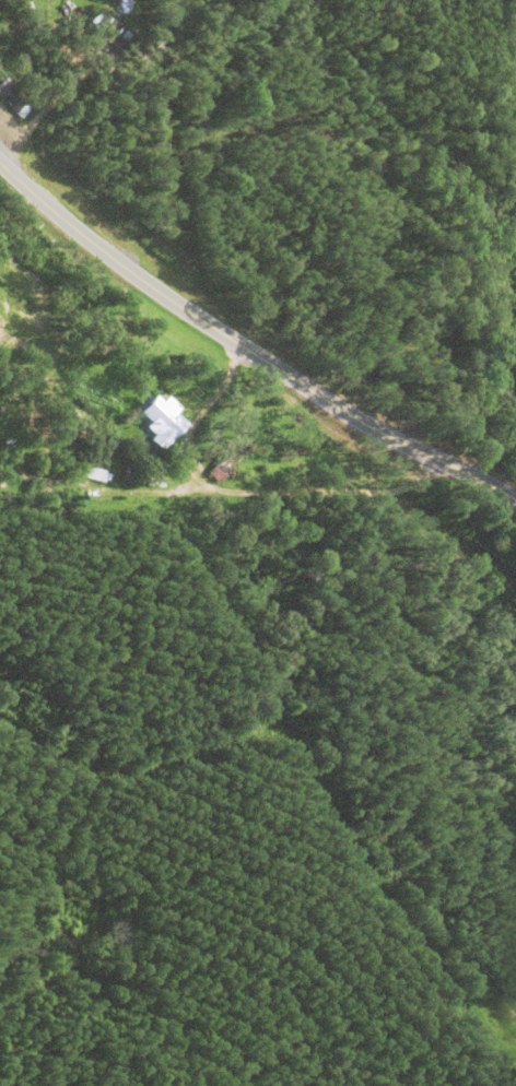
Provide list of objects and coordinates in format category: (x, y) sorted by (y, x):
building: (113, 29)
building: (14, 99)
road: (247, 356)
building: (162, 422)
building: (295, 462)
building: (220, 471)

